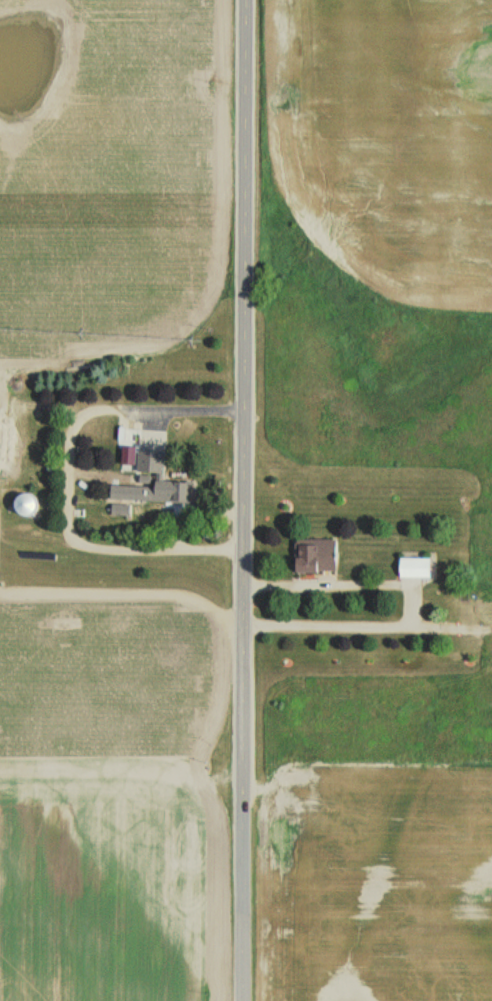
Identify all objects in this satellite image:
building: (157, 480)
road: (242, 500)
building: (22, 505)
building: (313, 555)
building: (412, 567)

